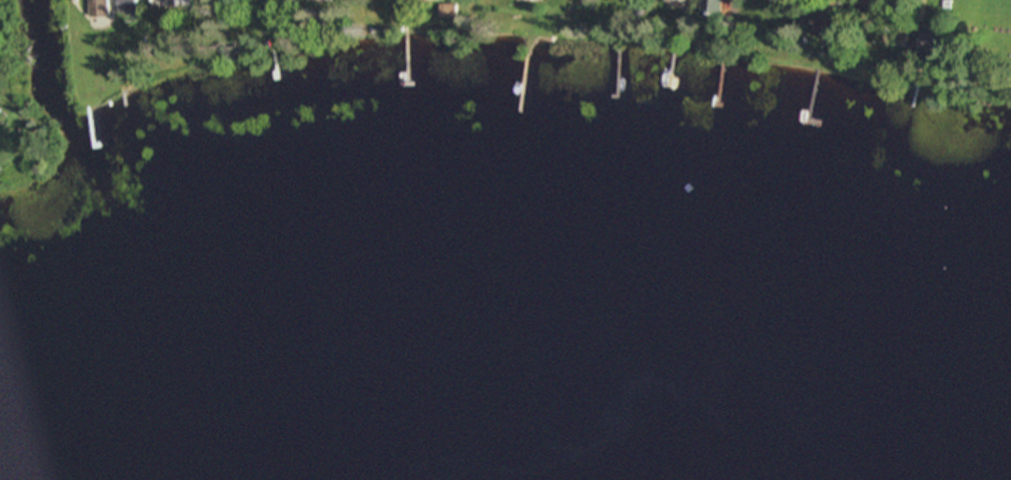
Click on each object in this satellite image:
building: (272, 1)
building: (315, 1)
building: (419, 1)
building: (170, 4)
building: (673, 4)
building: (123, 7)
building: (95, 9)
building: (710, 9)
building: (927, 45)
park: (979, 49)

